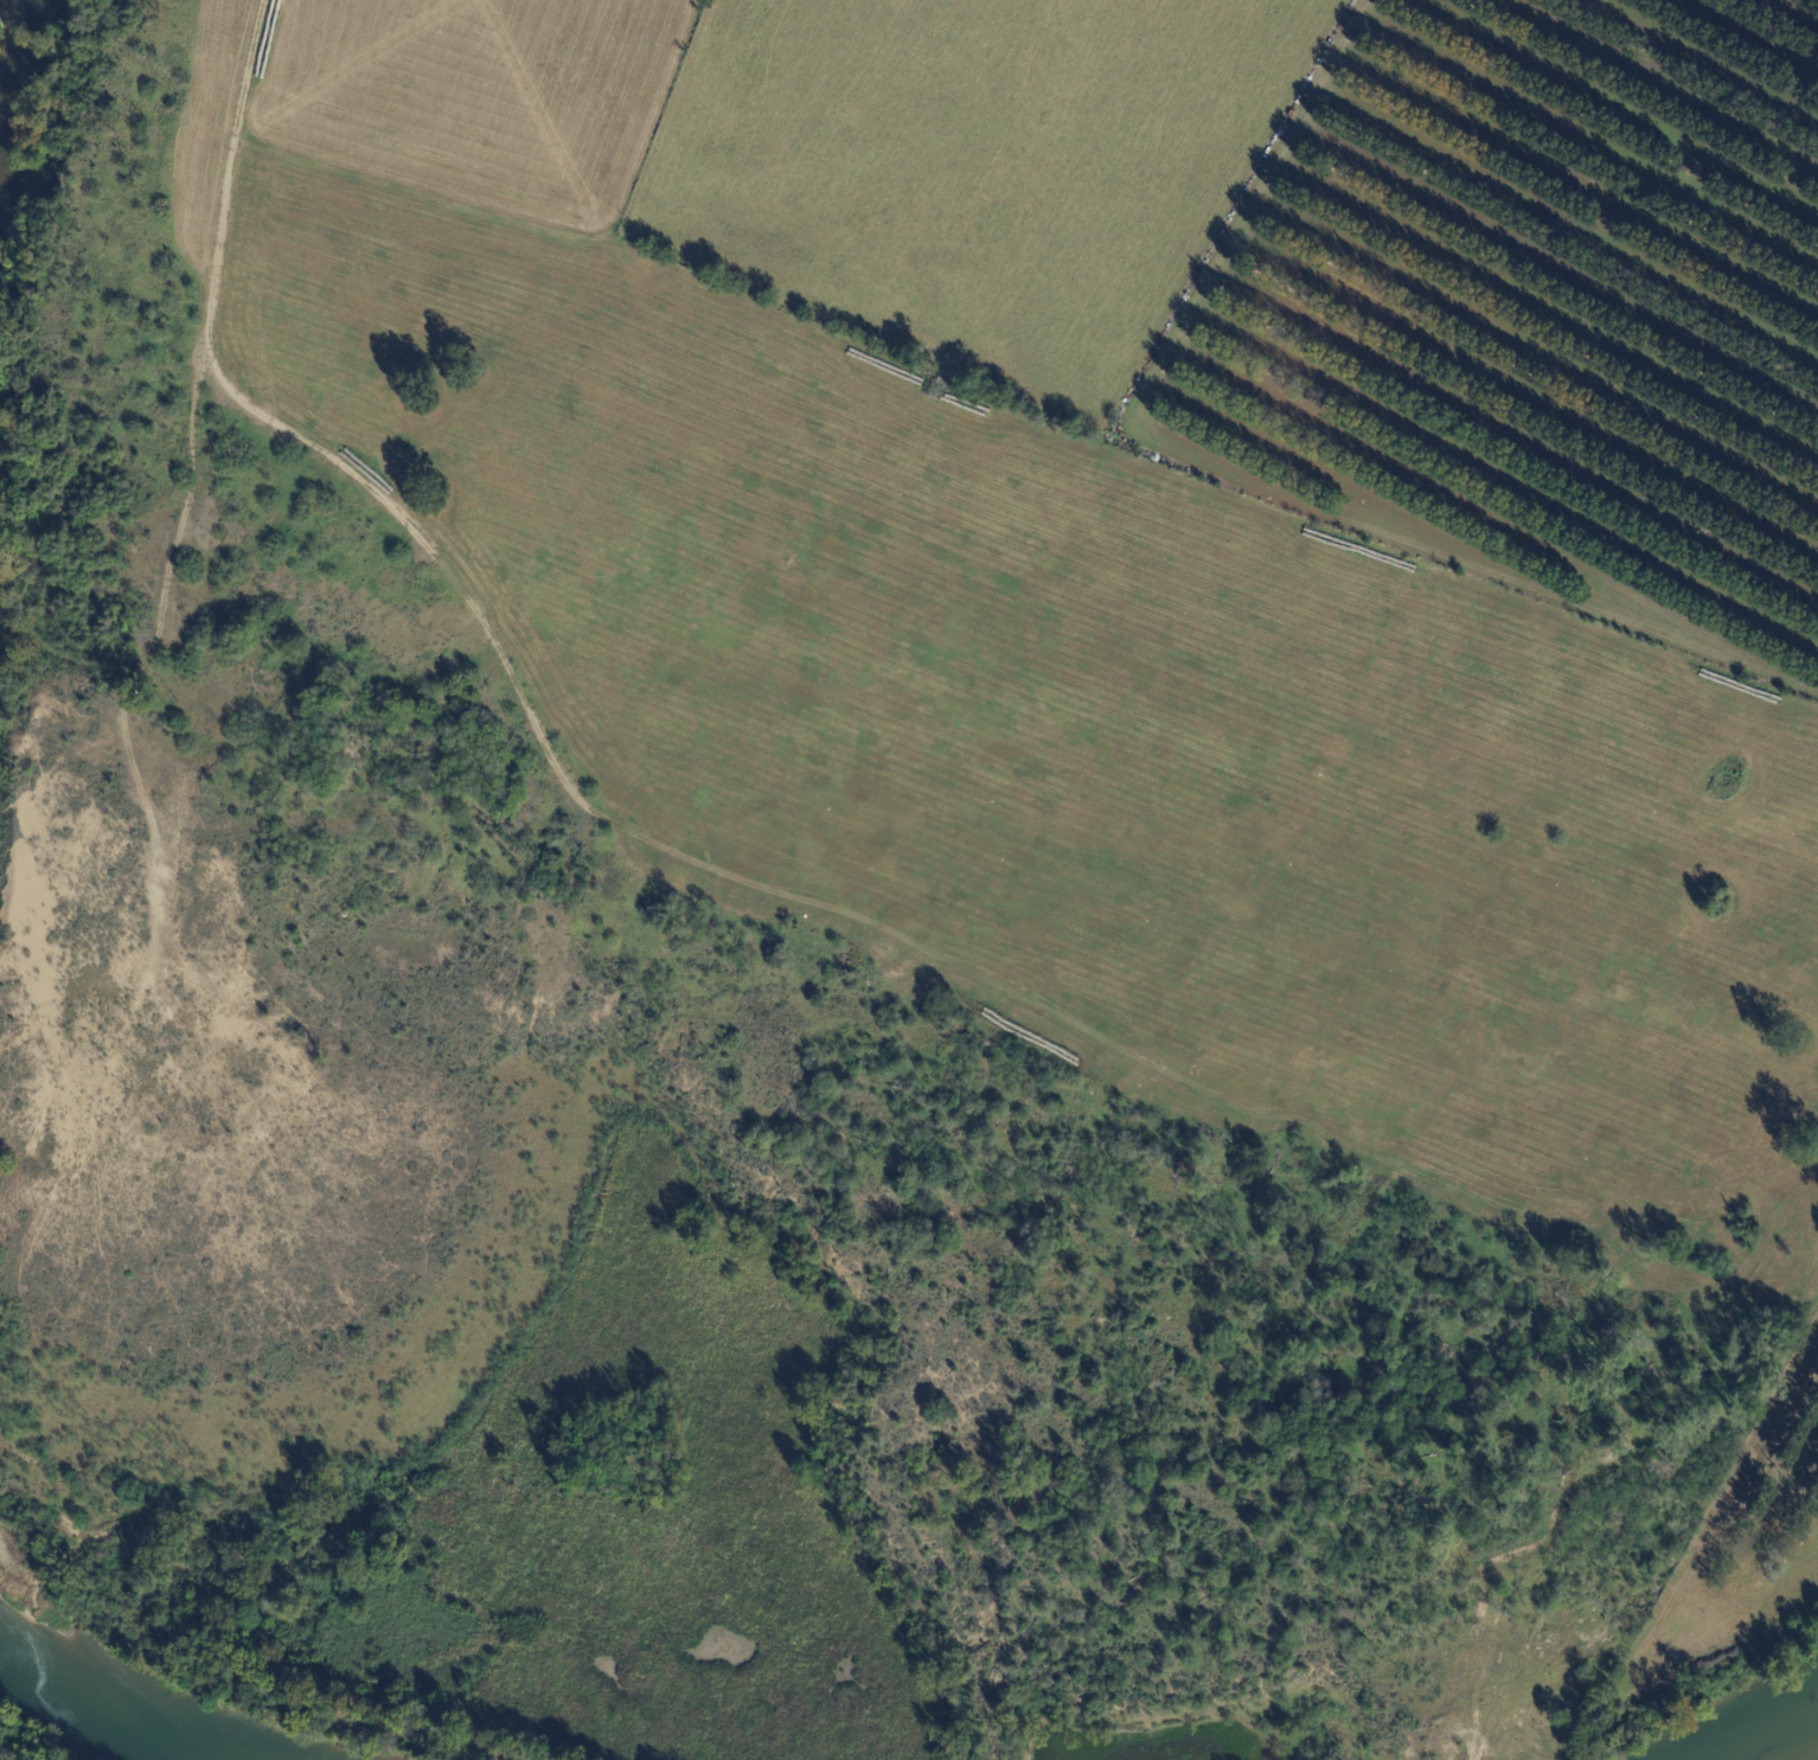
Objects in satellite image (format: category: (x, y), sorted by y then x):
river: (19, 62)
building: (1291, 114)
crop: (978, 172)
road: (645, 836)
river: (95, 1703)
river: (1777, 1736)

